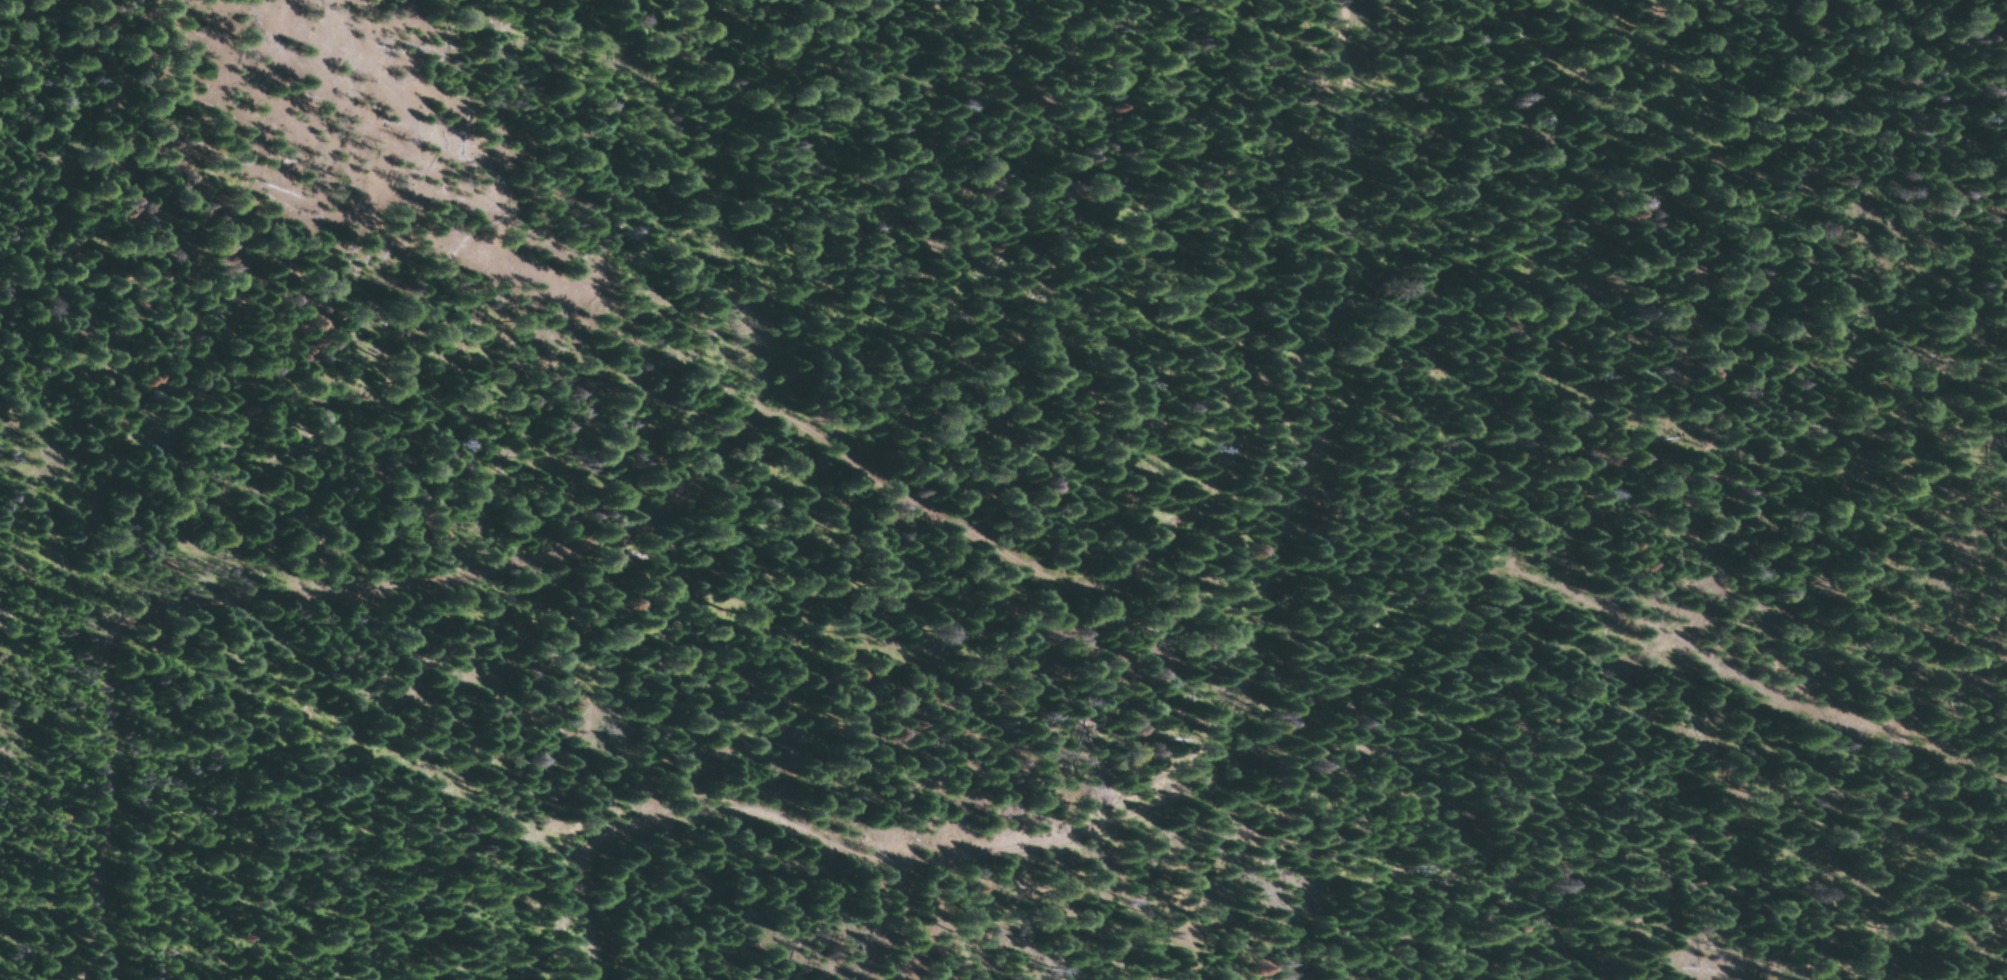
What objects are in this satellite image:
road: (686, 542)
road: (1599, 686)
road: (1131, 717)

